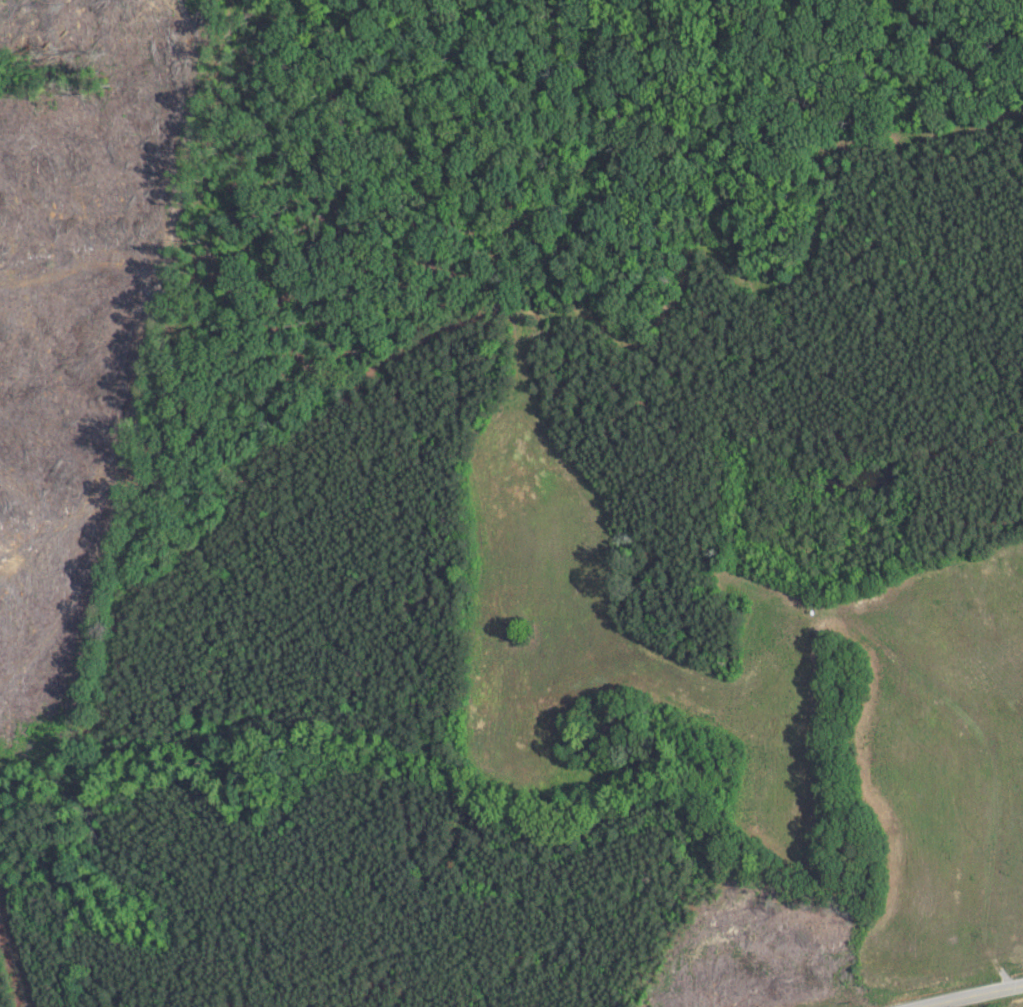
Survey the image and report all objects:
road: (1, 801)
road: (980, 998)

